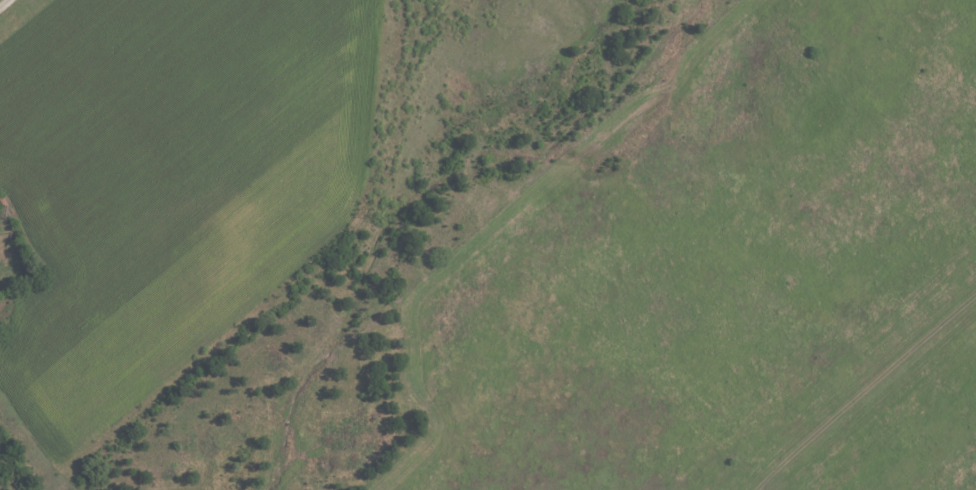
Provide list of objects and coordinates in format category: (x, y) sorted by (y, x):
road: (6, 5)
road: (947, 462)

